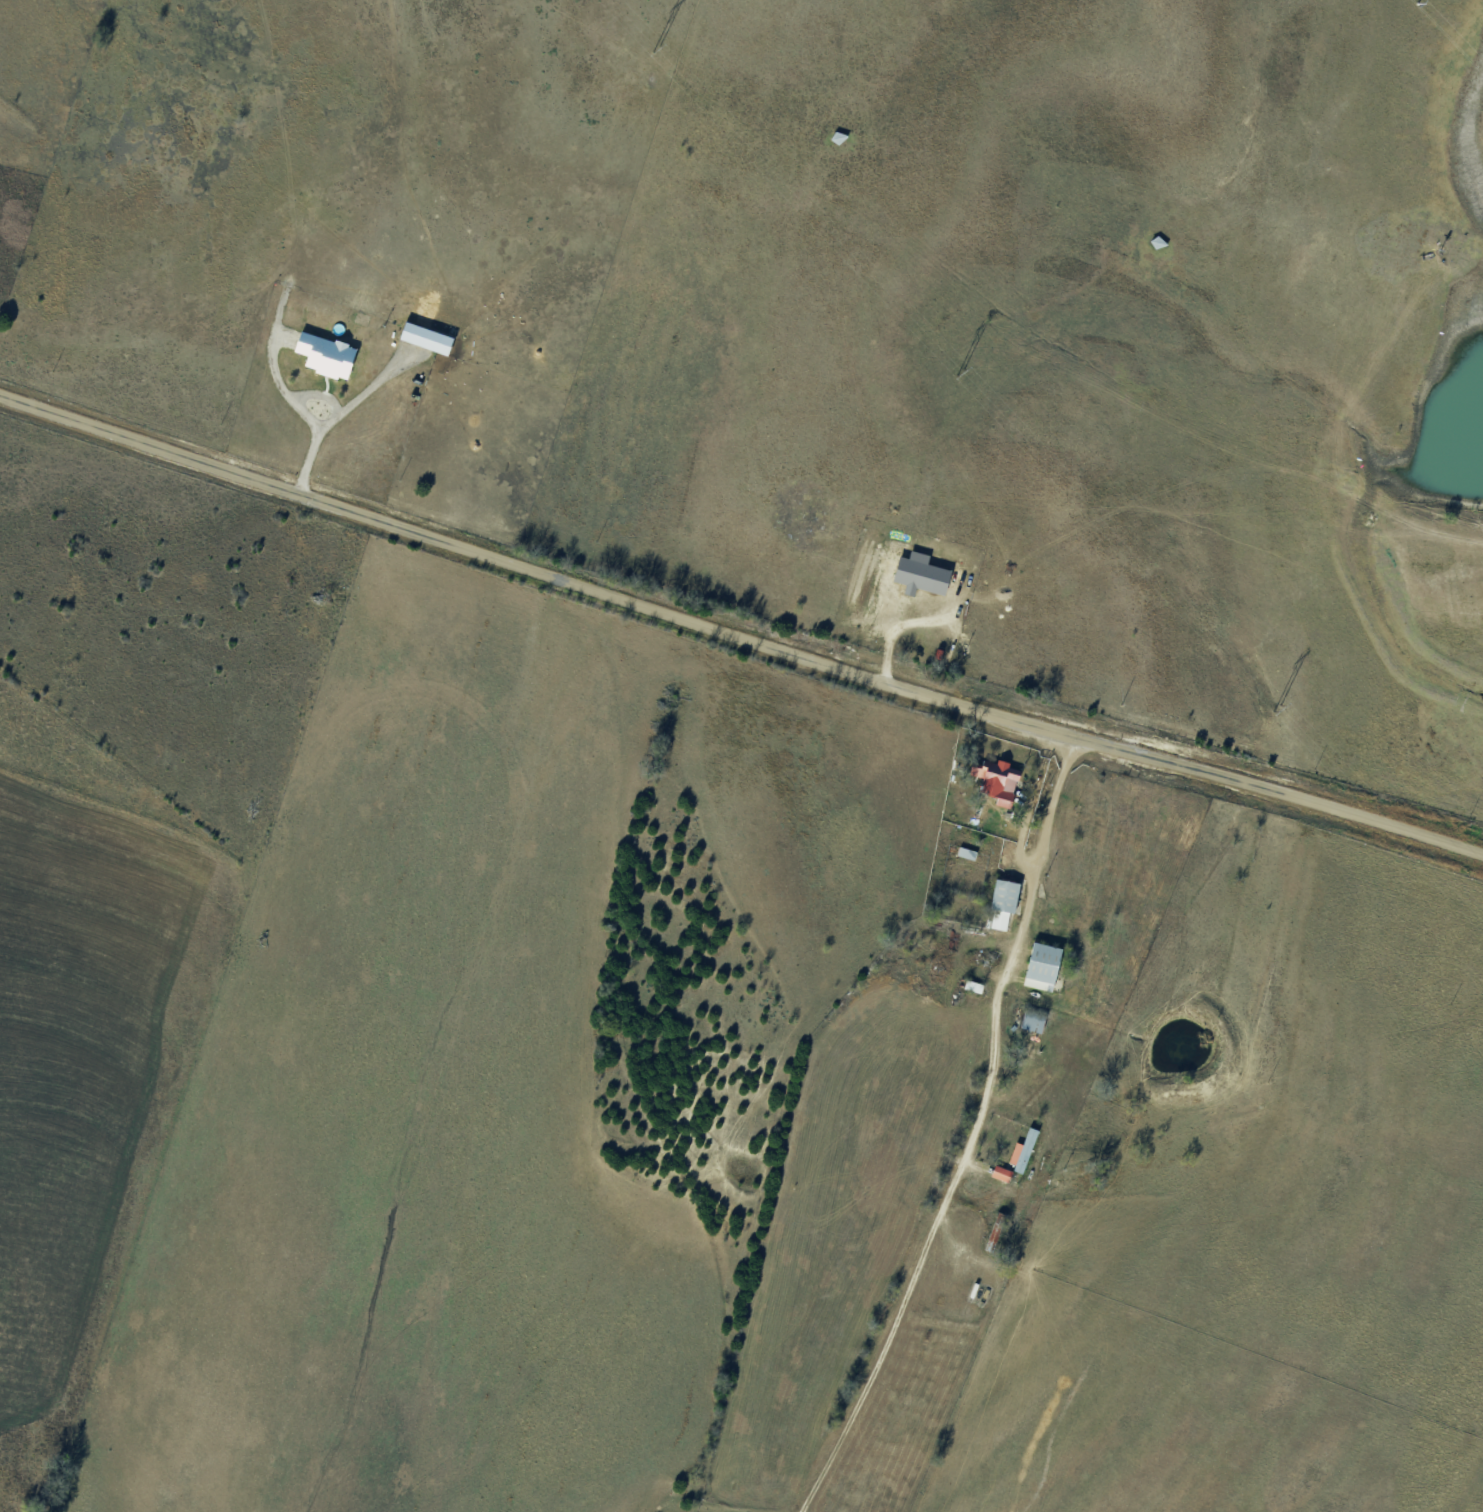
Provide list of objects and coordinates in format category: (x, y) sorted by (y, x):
power tower: (1416, 3)
power tower: (655, 49)
building: (838, 137)
building: (1157, 242)
power tower: (960, 373)
road: (738, 632)
power tower: (1277, 709)
building: (995, 780)
building: (1004, 896)
building: (1043, 966)
building: (973, 986)
building: (1033, 1021)
road: (966, 1129)
building: (1023, 1152)
building: (995, 1231)

